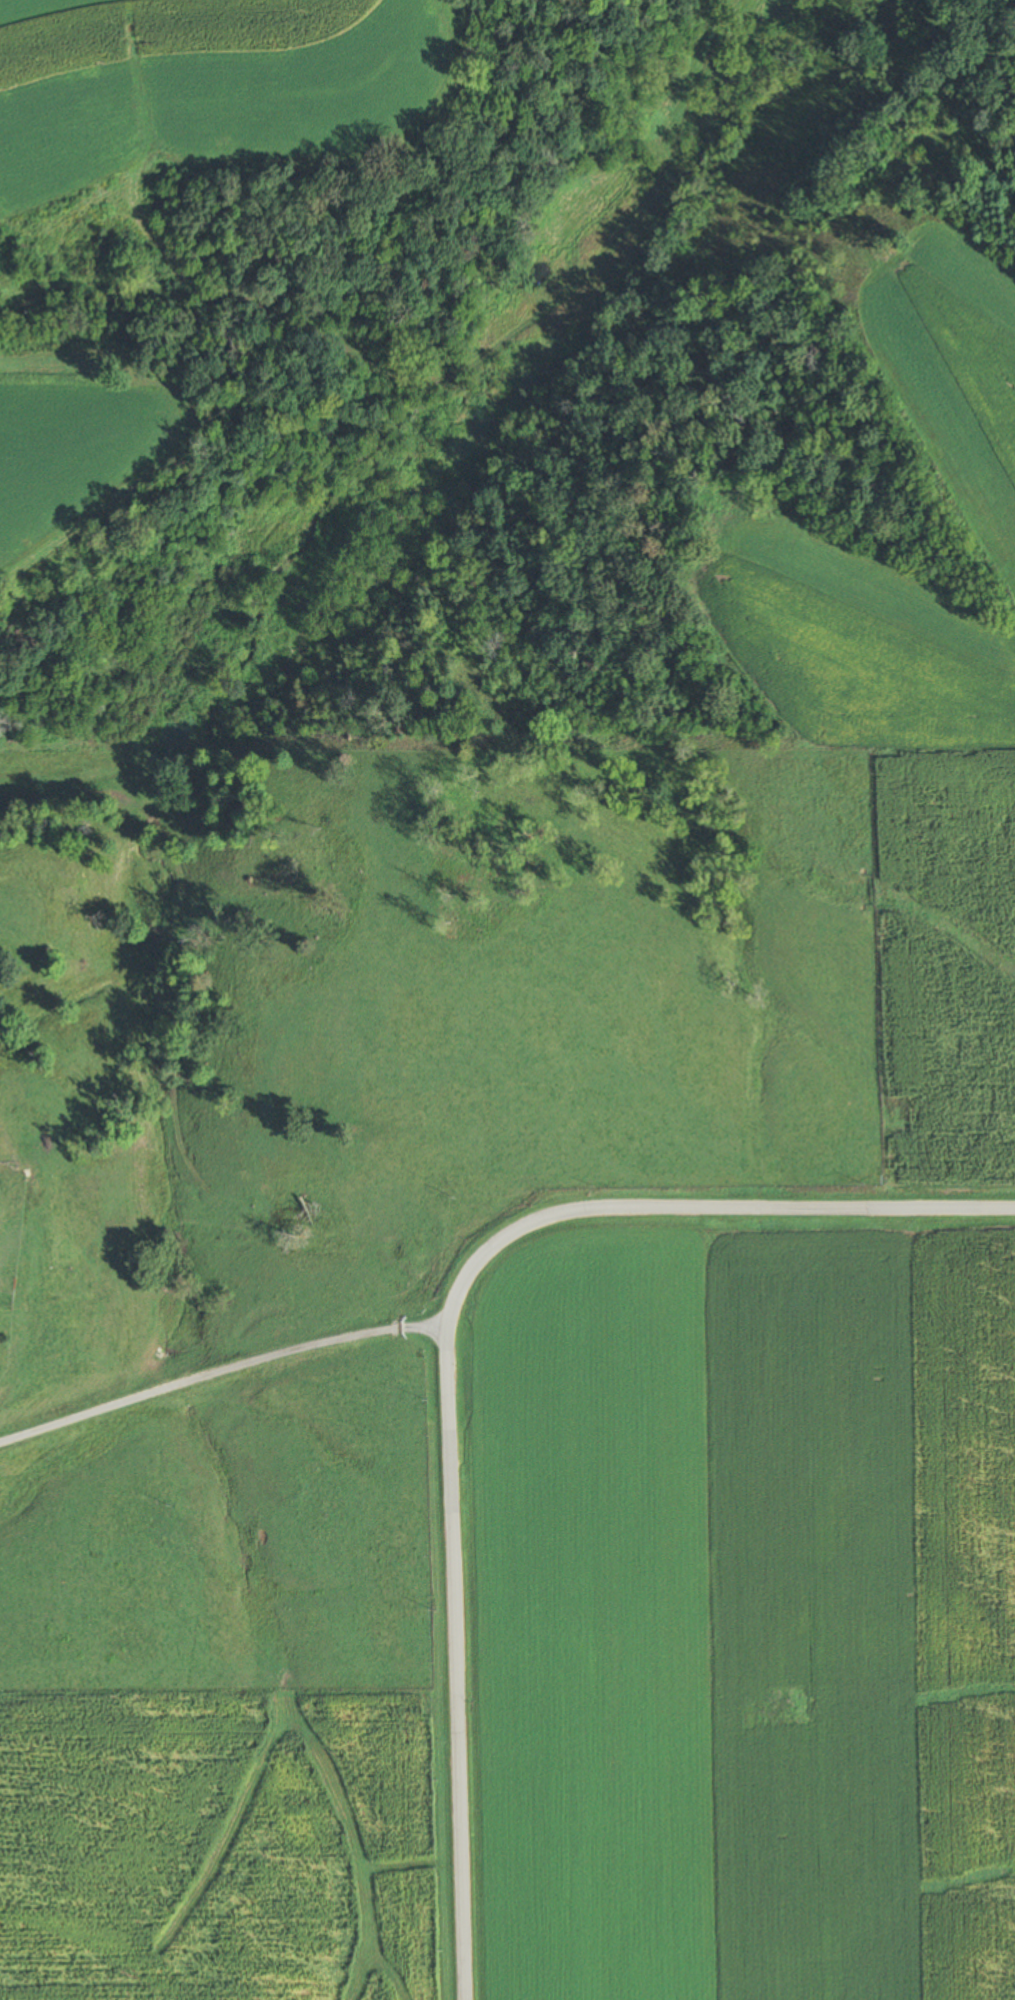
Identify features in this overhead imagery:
road: (446, 1350)
road: (222, 1368)

